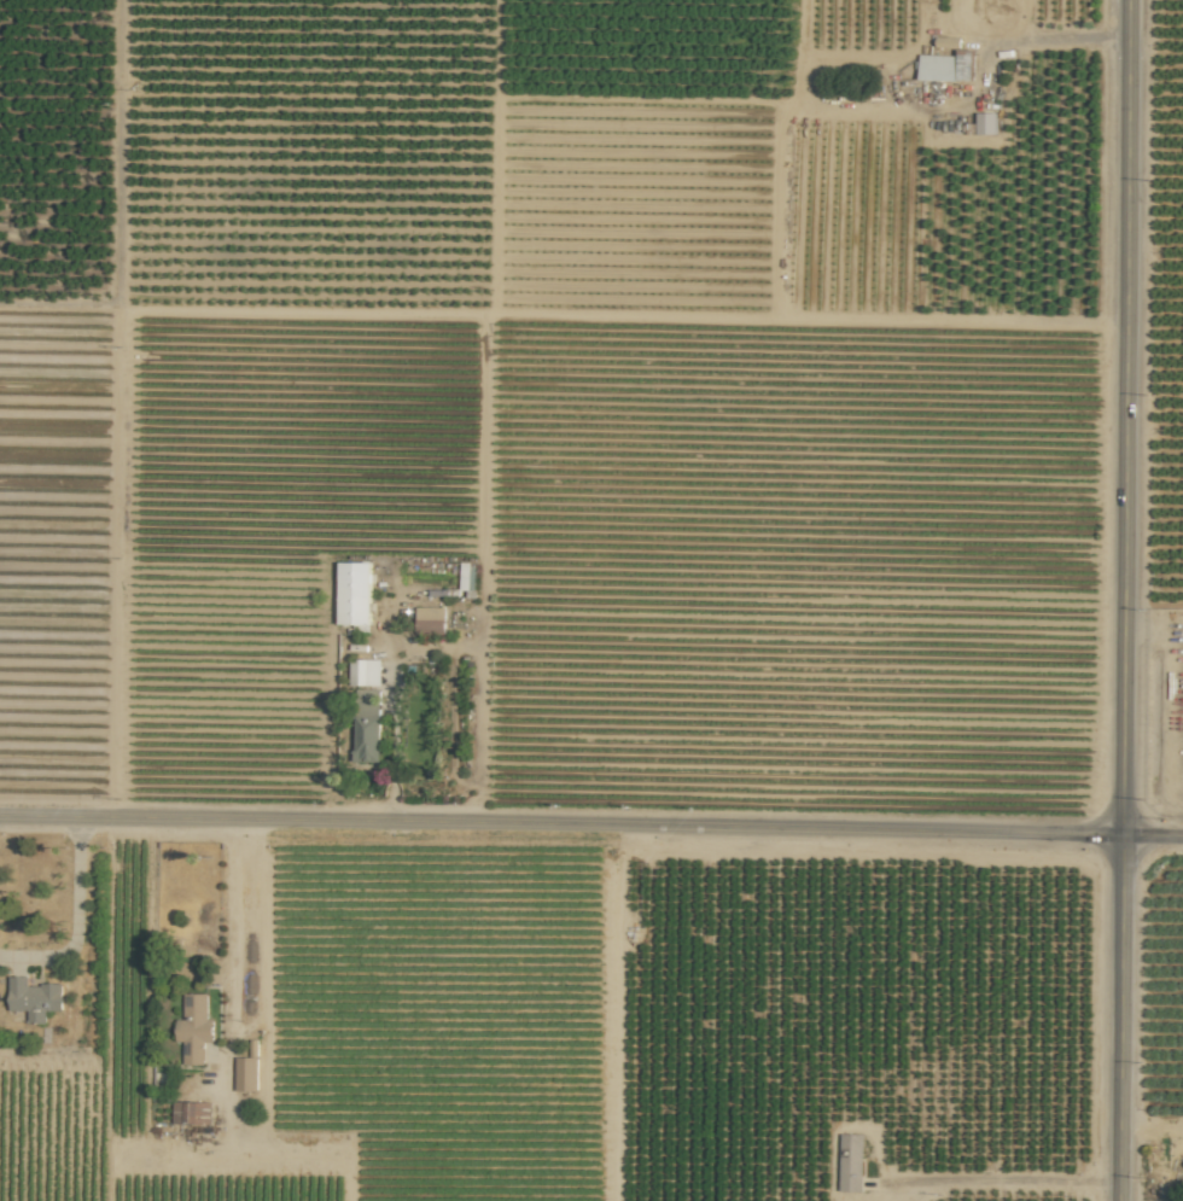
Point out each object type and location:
building: (980, 11)
road: (1059, 39)
building: (946, 66)
building: (985, 123)
building: (467, 576)
building: (354, 594)
road: (1125, 600)
building: (430, 619)
road: (1154, 626)
building: (365, 672)
building: (367, 724)
road: (590, 824)
road: (77, 919)
road: (250, 921)
building: (34, 998)
building: (194, 1028)
building: (246, 1073)
building: (191, 1112)
road: (1152, 1127)
building: (851, 1161)
road: (1006, 1182)

